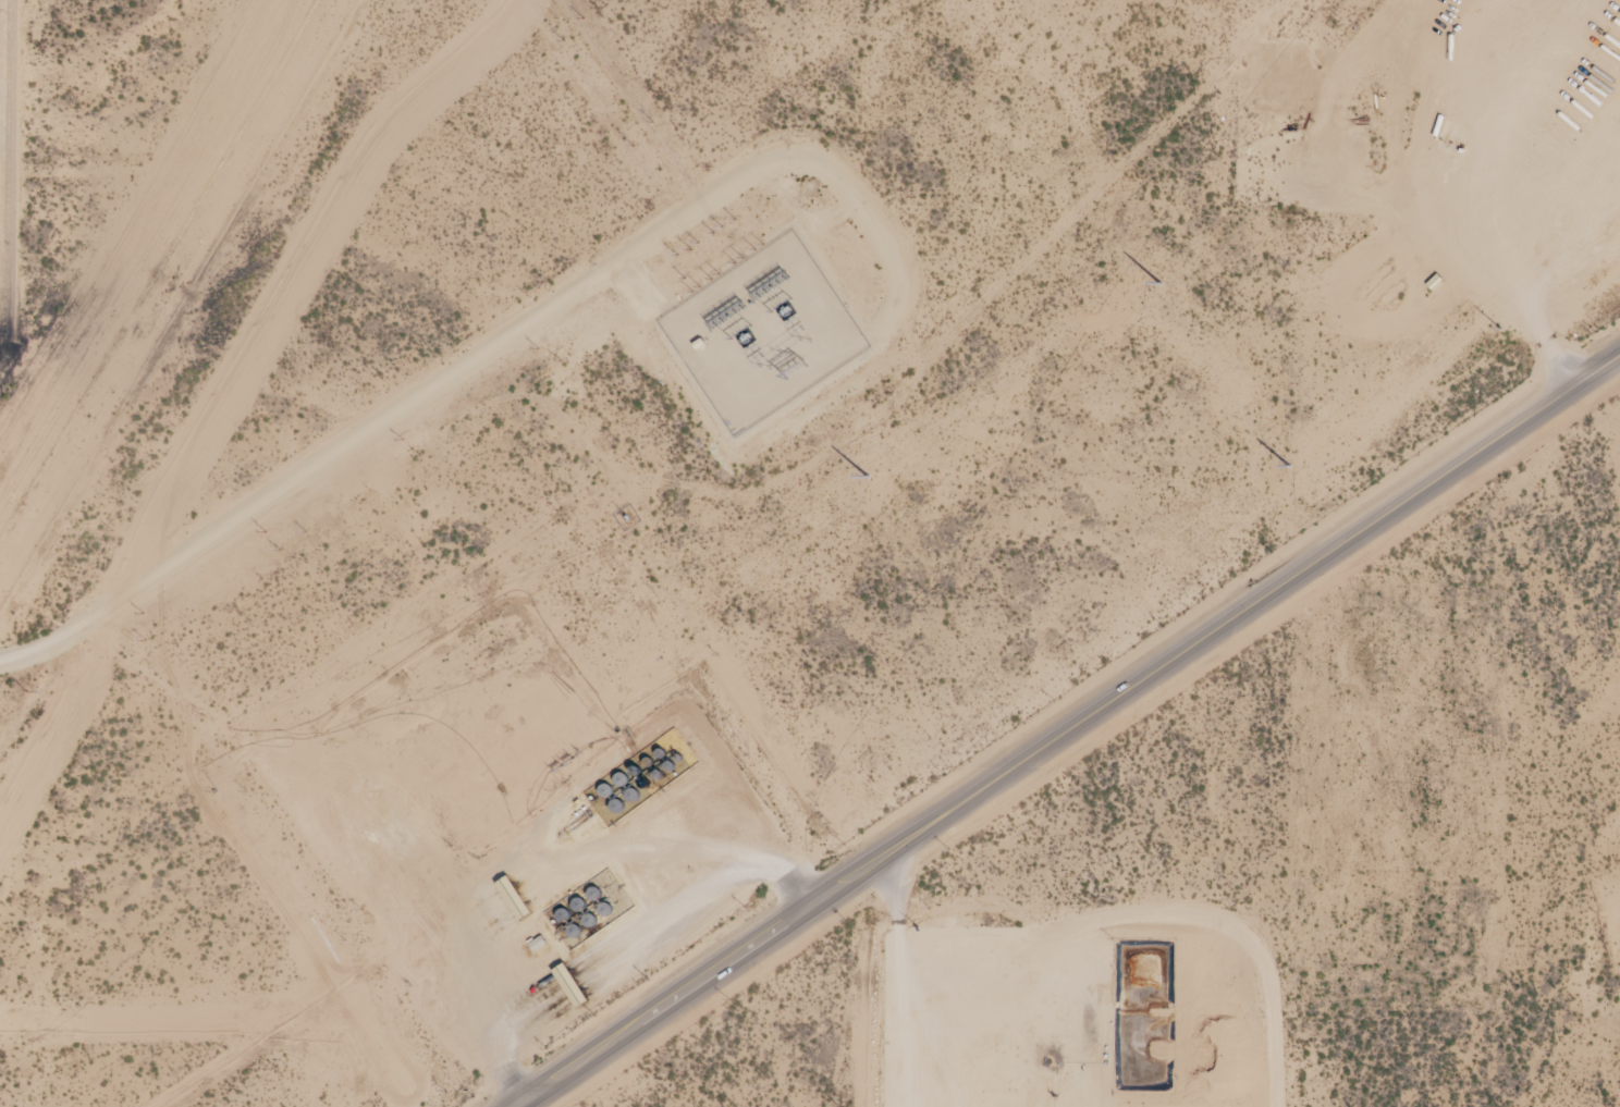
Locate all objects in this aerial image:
power tower: (1161, 285)
road: (1482, 288)
power tower: (1502, 330)
power substation: (764, 334)
road: (492, 348)
power tower: (1291, 468)
power tower: (868, 479)
road: (1068, 733)
road: (541, 861)
building: (538, 944)
road: (904, 983)

